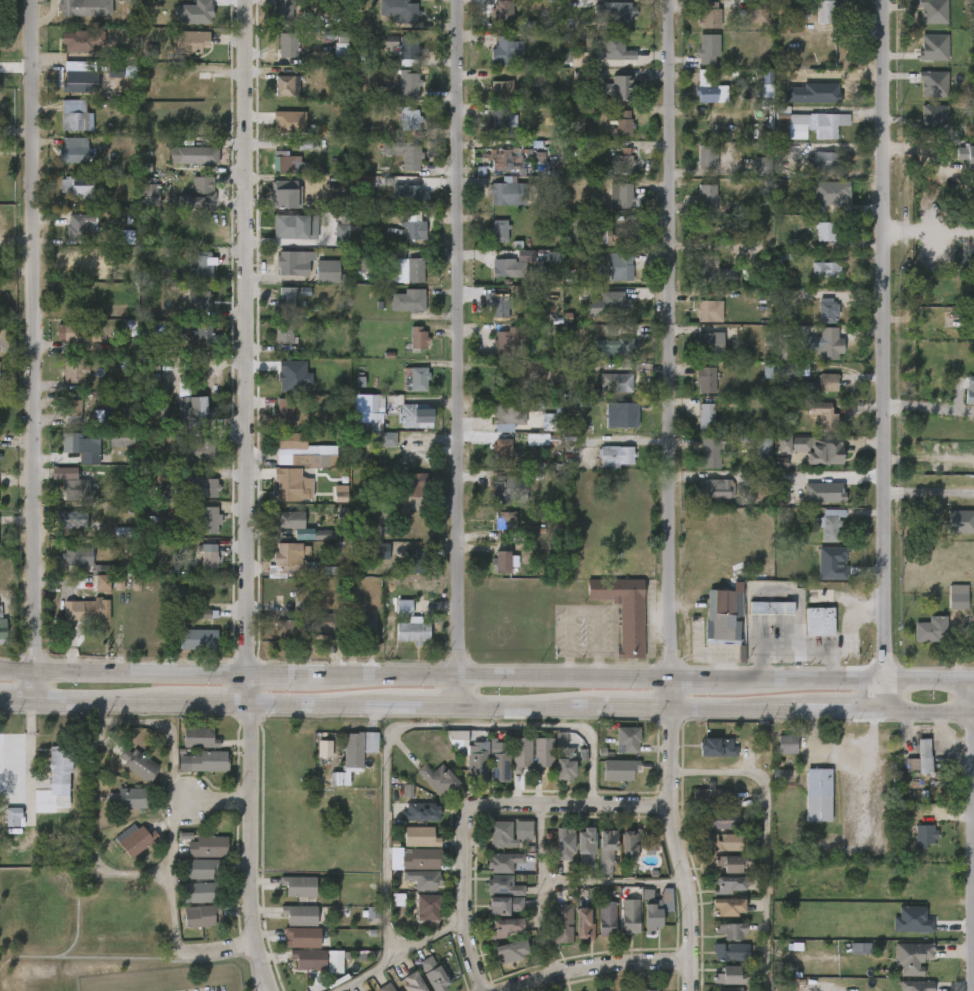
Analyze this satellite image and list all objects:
building: (78, 8)
building: (284, 9)
building: (402, 10)
building: (616, 11)
building: (824, 11)
building: (936, 11)
building: (760, 12)
building: (500, 13)
building: (706, 15)
building: (342, 37)
building: (80, 40)
building: (191, 41)
building: (390, 41)
building: (287, 46)
building: (617, 47)
building: (707, 47)
building: (936, 47)
building: (150, 50)
building: (406, 51)
building: (503, 51)
building: (340, 52)
building: (120, 54)
building: (80, 82)
building: (935, 83)
building: (201, 84)
building: (288, 85)
building: (407, 85)
building: (623, 85)
building: (500, 88)
building: (709, 90)
building: (766, 90)
building: (812, 94)
building: (74, 114)
building: (936, 118)
building: (409, 121)
building: (289, 122)
building: (500, 124)
building: (624, 124)
building: (812, 125)
building: (307, 145)
building: (403, 153)
building: (73, 154)
building: (195, 156)
building: (966, 156)
building: (504, 157)
building: (706, 157)
building: (761, 159)
building: (624, 160)
building: (826, 160)
building: (282, 161)
building: (360, 182)
building: (83, 190)
building: (506, 191)
building: (149, 192)
building: (283, 193)
building: (830, 193)
building: (404, 194)
building: (197, 195)
building: (623, 196)
building: (707, 197)
building: (78, 227)
building: (286, 227)
building: (580, 227)
building: (411, 230)
building: (498, 230)
building: (826, 231)
road: (928, 232)
building: (341, 234)
building: (616, 235)
building: (127, 237)
building: (82, 256)
building: (525, 256)
building: (291, 265)
building: (201, 266)
building: (502, 266)
building: (622, 267)
building: (415, 270)
building: (826, 270)
building: (328, 271)
building: (714, 272)
building: (285, 299)
building: (406, 300)
building: (197, 302)
building: (613, 303)
building: (499, 305)
building: (703, 309)
building: (828, 310)
building: (80, 332)
building: (285, 333)
building: (204, 334)
building: (415, 337)
road: (251, 338)
road: (881, 339)
road: (672, 340)
building: (509, 341)
building: (704, 342)
building: (823, 344)
building: (615, 347)
road: (37, 354)
road: (462, 357)
building: (77, 369)
building: (791, 369)
building: (294, 376)
building: (702, 378)
building: (414, 379)
building: (829, 382)
building: (621, 383)
building: (970, 392)
building: (202, 406)
road: (927, 409)
building: (74, 410)
building: (285, 413)
building: (626, 413)
building: (416, 416)
building: (707, 416)
building: (504, 417)
building: (554, 418)
building: (367, 421)
building: (830, 422)
building: (154, 437)
building: (121, 438)
building: (387, 440)
building: (542, 440)
building: (287, 441)
building: (82, 443)
building: (815, 449)
building: (201, 451)
building: (503, 452)
building: (713, 452)
building: (764, 452)
building: (417, 454)
building: (616, 457)
building: (310, 462)
building: (414, 485)
building: (286, 488)
building: (77, 489)
building: (503, 489)
building: (716, 489)
building: (201, 492)
building: (167, 493)
building: (823, 493)
road: (927, 493)
building: (340, 494)
building: (77, 519)
building: (207, 519)
building: (287, 520)
building: (506, 520)
building: (831, 523)
building: (197, 532)
building: (277, 533)
building: (493, 533)
building: (63, 534)
building: (951, 536)
building: (818, 538)
building: (517, 546)
building: (311, 548)
building: (79, 557)
building: (289, 557)
building: (209, 558)
building: (412, 561)
building: (369, 564)
building: (65, 569)
building: (196, 570)
building: (277, 570)
building: (402, 574)
building: (493, 574)
building: (819, 576)
building: (90, 596)
building: (819, 596)
building: (959, 597)
building: (768, 607)
building: (945, 607)
building: (808, 609)
building: (96, 610)
building: (624, 611)
building: (391, 620)
building: (758, 621)
building: (818, 621)
building: (74, 623)
building: (721, 623)
building: (611, 624)
building: (325, 625)
building: (359, 626)
building: (3, 627)
building: (190, 627)
building: (932, 630)
building: (287, 631)
building: (414, 632)
building: (807, 635)
building: (196, 639)
building: (314, 639)
building: (274, 642)
building: (919, 643)
building: (401, 645)
building: (186, 652)
road: (125, 674)
road: (274, 677)
road: (479, 677)
road: (797, 679)
road: (687, 680)
road: (924, 680)
road: (971, 681)
road: (250, 694)
road: (881, 697)
road: (660, 698)
road: (968, 699)
road: (18, 705)
road: (97, 708)
road: (204, 710)
road: (313, 711)
road: (418, 713)
road: (520, 714)
road: (621, 715)
road: (971, 715)
road: (771, 716)
road: (925, 716)
road: (416, 726)
road: (33, 728)
building: (199, 737)
building: (626, 739)
building: (787, 743)
building: (355, 748)
building: (714, 748)
building: (188, 751)
road: (840, 751)
building: (614, 752)
building: (521, 753)
building: (543, 753)
building: (564, 757)
building: (773, 757)
building: (921, 758)
building: (210, 760)
building: (311, 761)
building: (476, 761)
building: (704, 761)
building: (497, 762)
building: (140, 764)
building: (57, 767)
building: (508, 767)
building: (529, 767)
building: (342, 768)
building: (620, 769)
building: (551, 772)
building: (907, 772)
building: (196, 774)
building: (486, 774)
building: (465, 775)
building: (125, 776)
building: (436, 778)
building: (47, 779)
building: (607, 782)
building: (768, 787)
road: (161, 788)
building: (426, 792)
building: (819, 794)
building: (128, 797)
building: (709, 797)
road: (861, 798)
road: (218, 801)
building: (806, 807)
building: (693, 809)
building: (414, 810)
building: (115, 811)
building: (49, 814)
road: (469, 814)
building: (720, 819)
building: (407, 825)
building: (923, 831)
building: (500, 832)
building: (710, 833)
road: (970, 835)
building: (417, 837)
building: (135, 839)
building: (724, 841)
building: (510, 843)
building: (559, 844)
building: (583, 845)
building: (626, 845)
road: (753, 845)
building: (208, 846)
building: (605, 846)
building: (488, 847)
building: (911, 848)
building: (407, 849)
building: (122, 852)
road: (253, 852)
road: (666, 853)
building: (710, 855)
building: (551, 856)
building: (617, 858)
building: (415, 859)
building: (573, 860)
building: (594, 860)
building: (504, 861)
building: (727, 864)
building: (199, 868)
building: (406, 871)
building: (490, 874)
building: (719, 876)
building: (420, 879)
road: (87, 882)
building: (188, 882)
building: (726, 884)
building: (504, 885)
building: (296, 886)
building: (200, 891)
building: (410, 892)
road: (601, 895)
building: (716, 897)
building: (286, 898)
building: (490, 899)
road: (528, 902)
building: (505, 904)
building: (187, 905)
building: (426, 907)
building: (723, 907)
building: (200, 915)
building: (297, 916)
building: (604, 917)
building: (628, 917)
building: (649, 917)
building: (491, 918)
road: (973, 918)
building: (715, 919)
building: (415, 920)
building: (561, 924)
building: (580, 925)
building: (188, 928)
building: (288, 928)
building: (502, 928)
building: (617, 929)
building: (639, 929)
building: (594, 931)
building: (727, 931)
building: (899, 933)
building: (550, 936)
building: (301, 937)
building: (571, 937)
building: (494, 940)
building: (717, 944)
road: (229, 949)
building: (289, 950)
building: (512, 951)
building: (729, 952)
building: (910, 958)
building: (305, 959)
road: (390, 959)
building: (847, 961)
building: (332, 963)
building: (498, 964)
building: (717, 964)
building: (899, 970)
building: (297, 972)
building: (322, 974)
building: (432, 975)
road: (598, 975)
building: (728, 976)
building: (418, 980)
building: (408, 983)
building: (915, 985)
building: (384, 987)
building: (646, 989)
building: (727, 989)
building: (603, 990)

